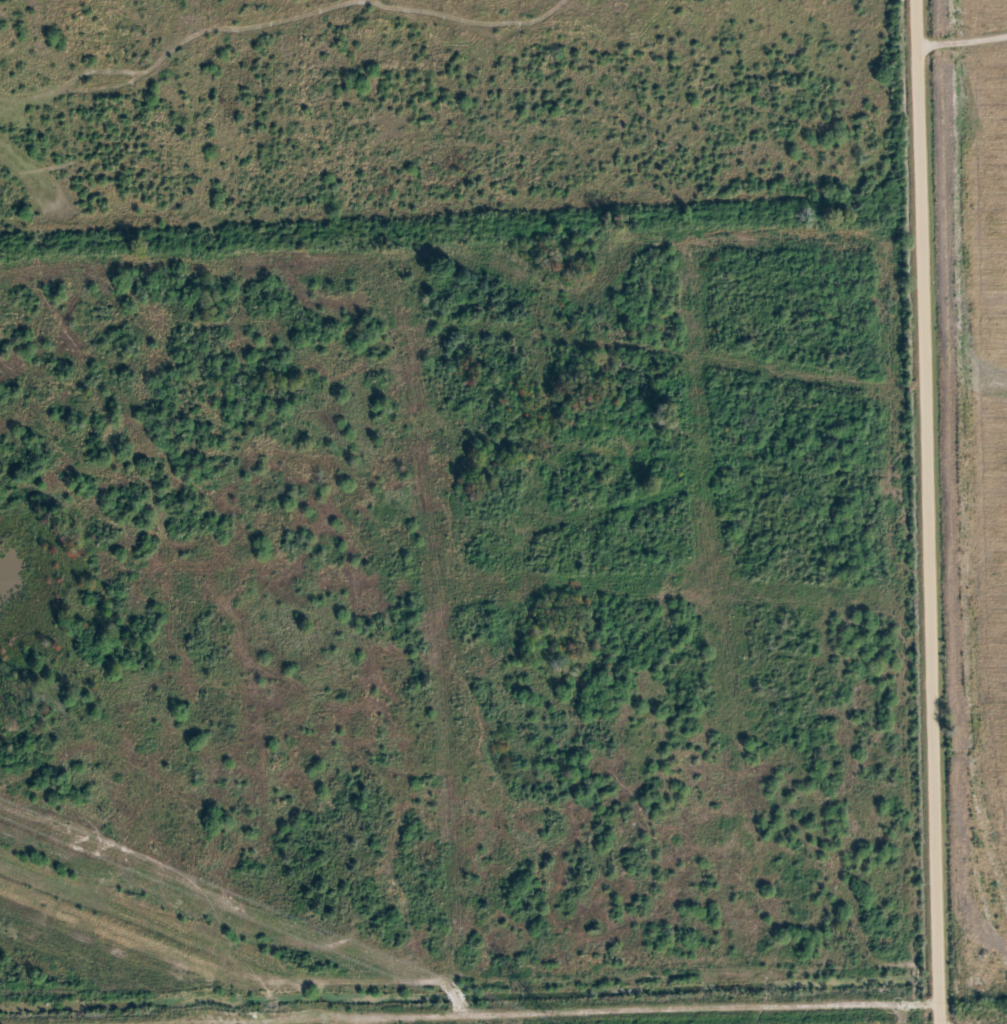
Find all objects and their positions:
road: (930, 512)
road: (776, 1014)

